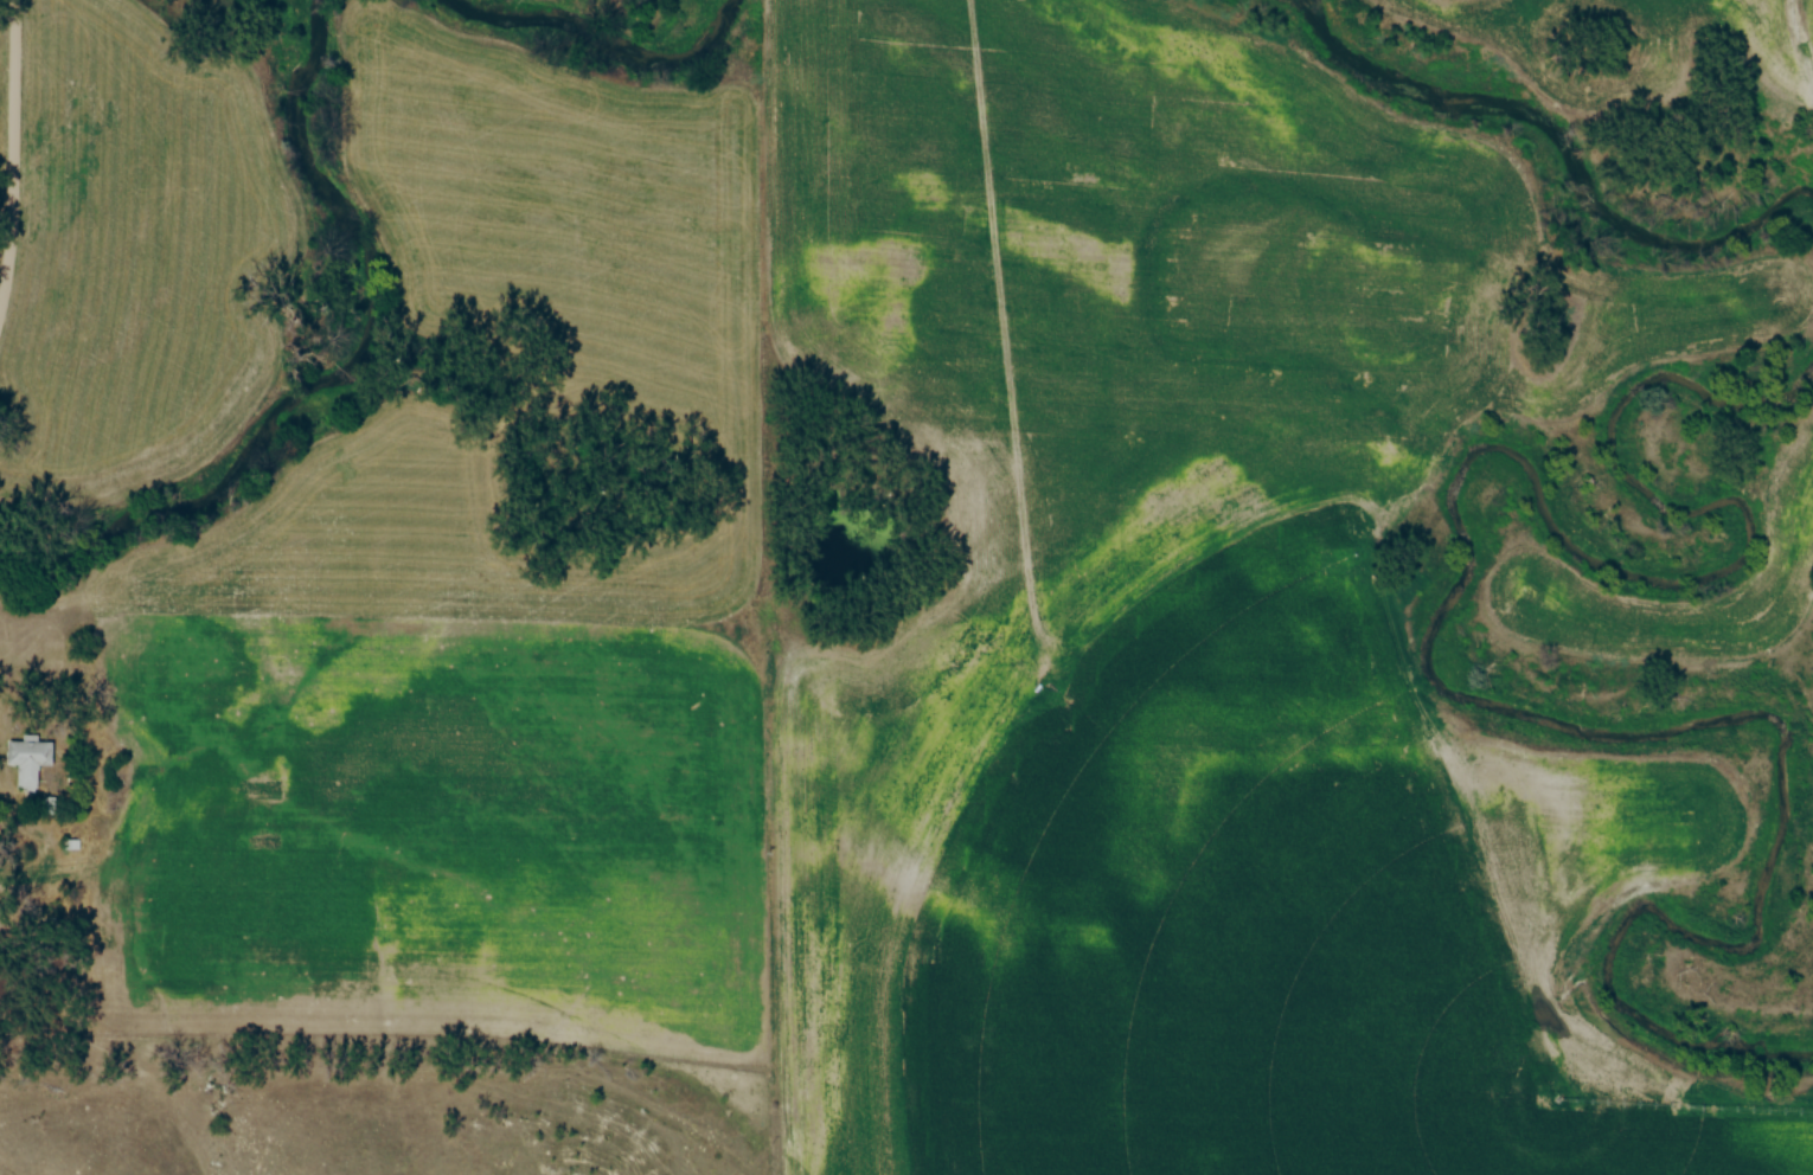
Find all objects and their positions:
road: (12, 155)
crop: (136, 255)
crop: (469, 619)
building: (28, 762)
road: (7, 791)
building: (47, 916)

